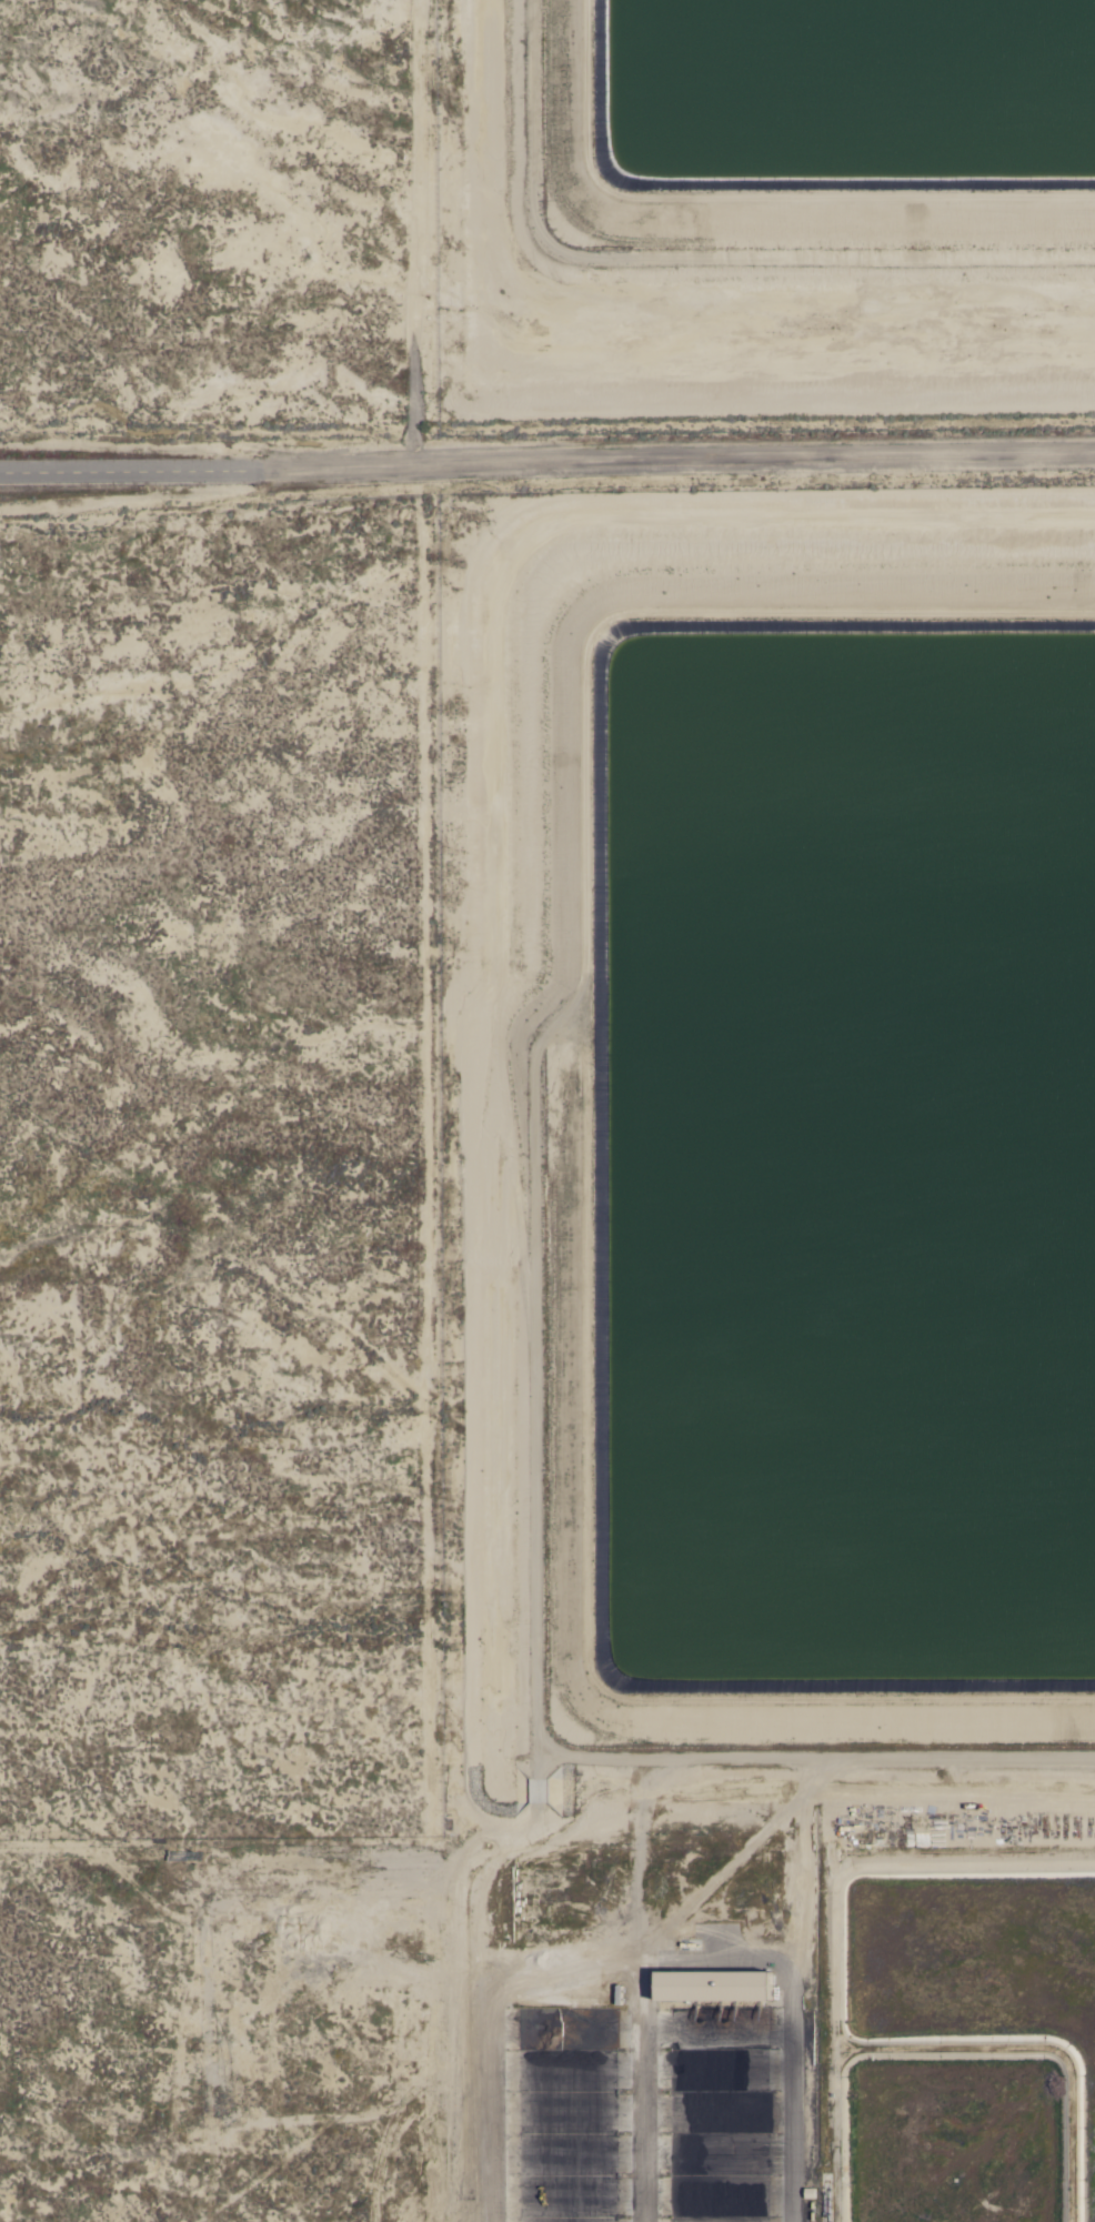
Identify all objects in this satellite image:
wastewater plant: (764, 207)
road: (547, 466)
wastewater plant: (695, 1440)
road: (652, 1777)
building: (714, 1984)

